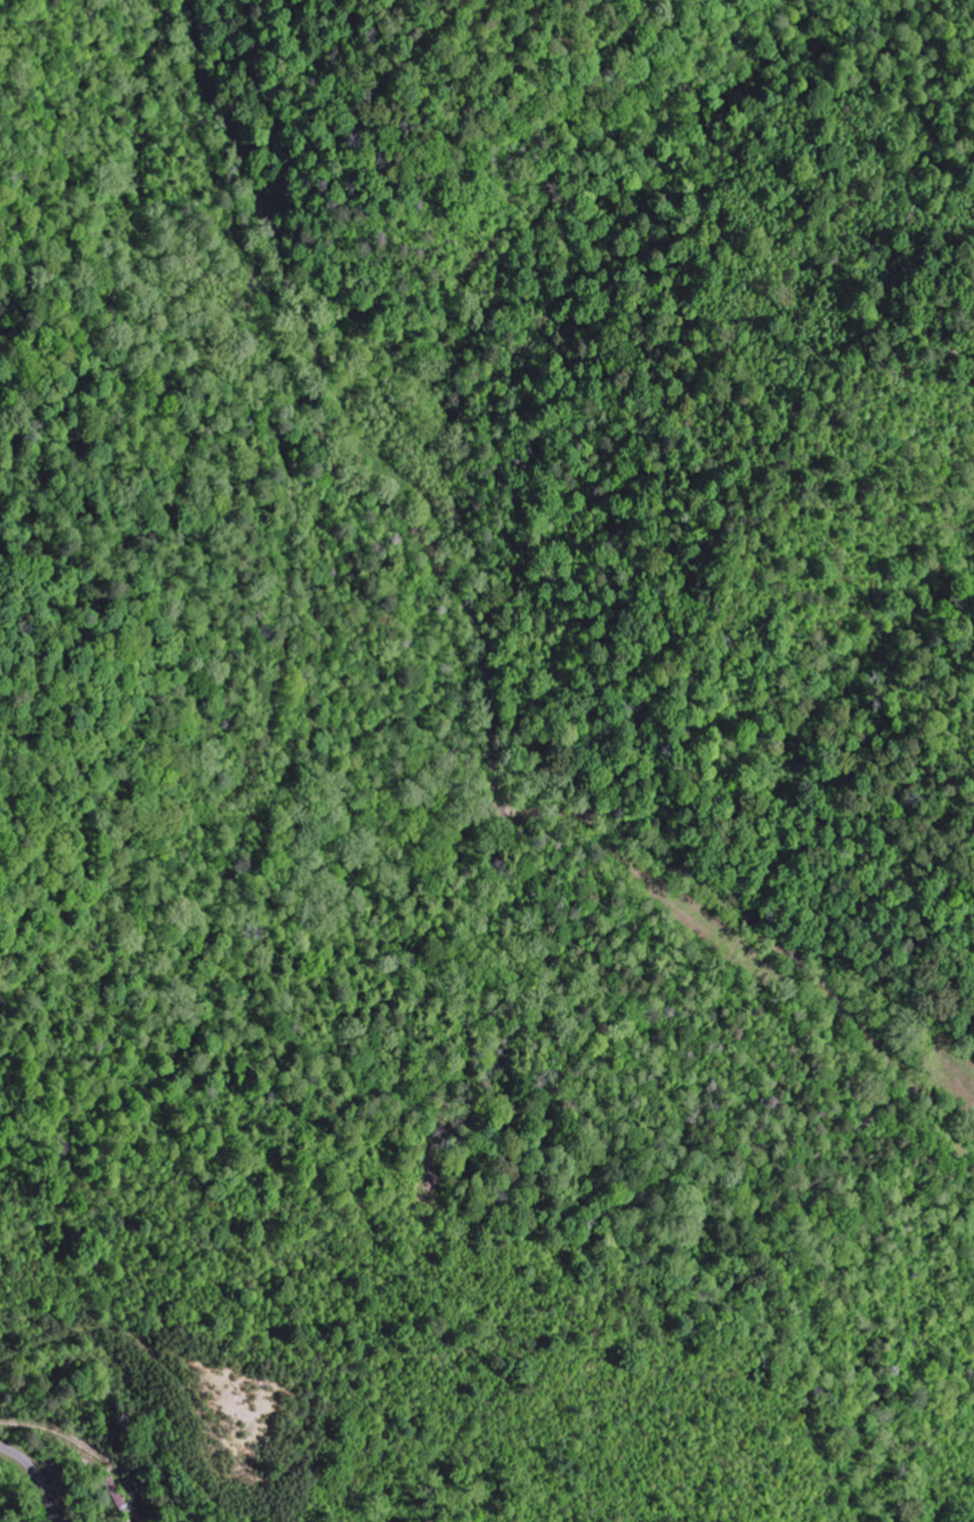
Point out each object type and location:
road: (37, 1476)

